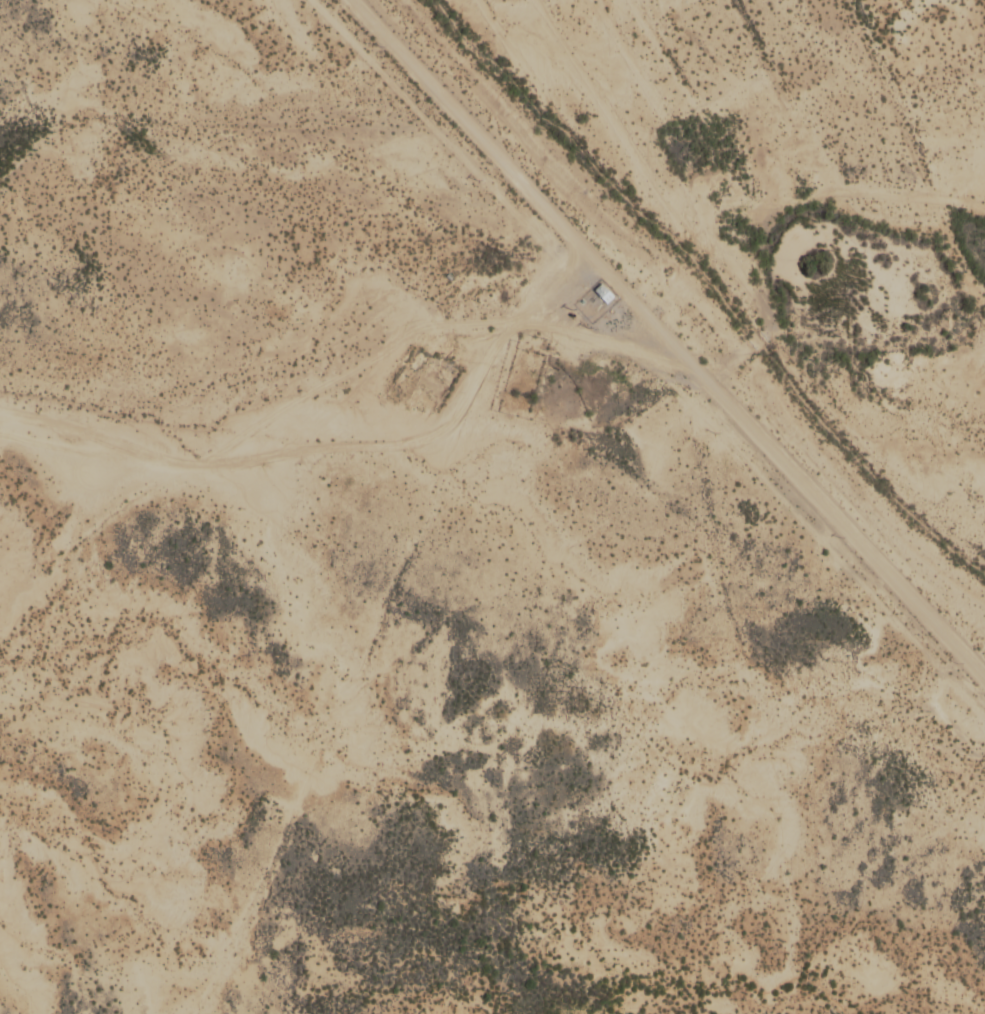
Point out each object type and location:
road: (517, 180)
road: (561, 424)

